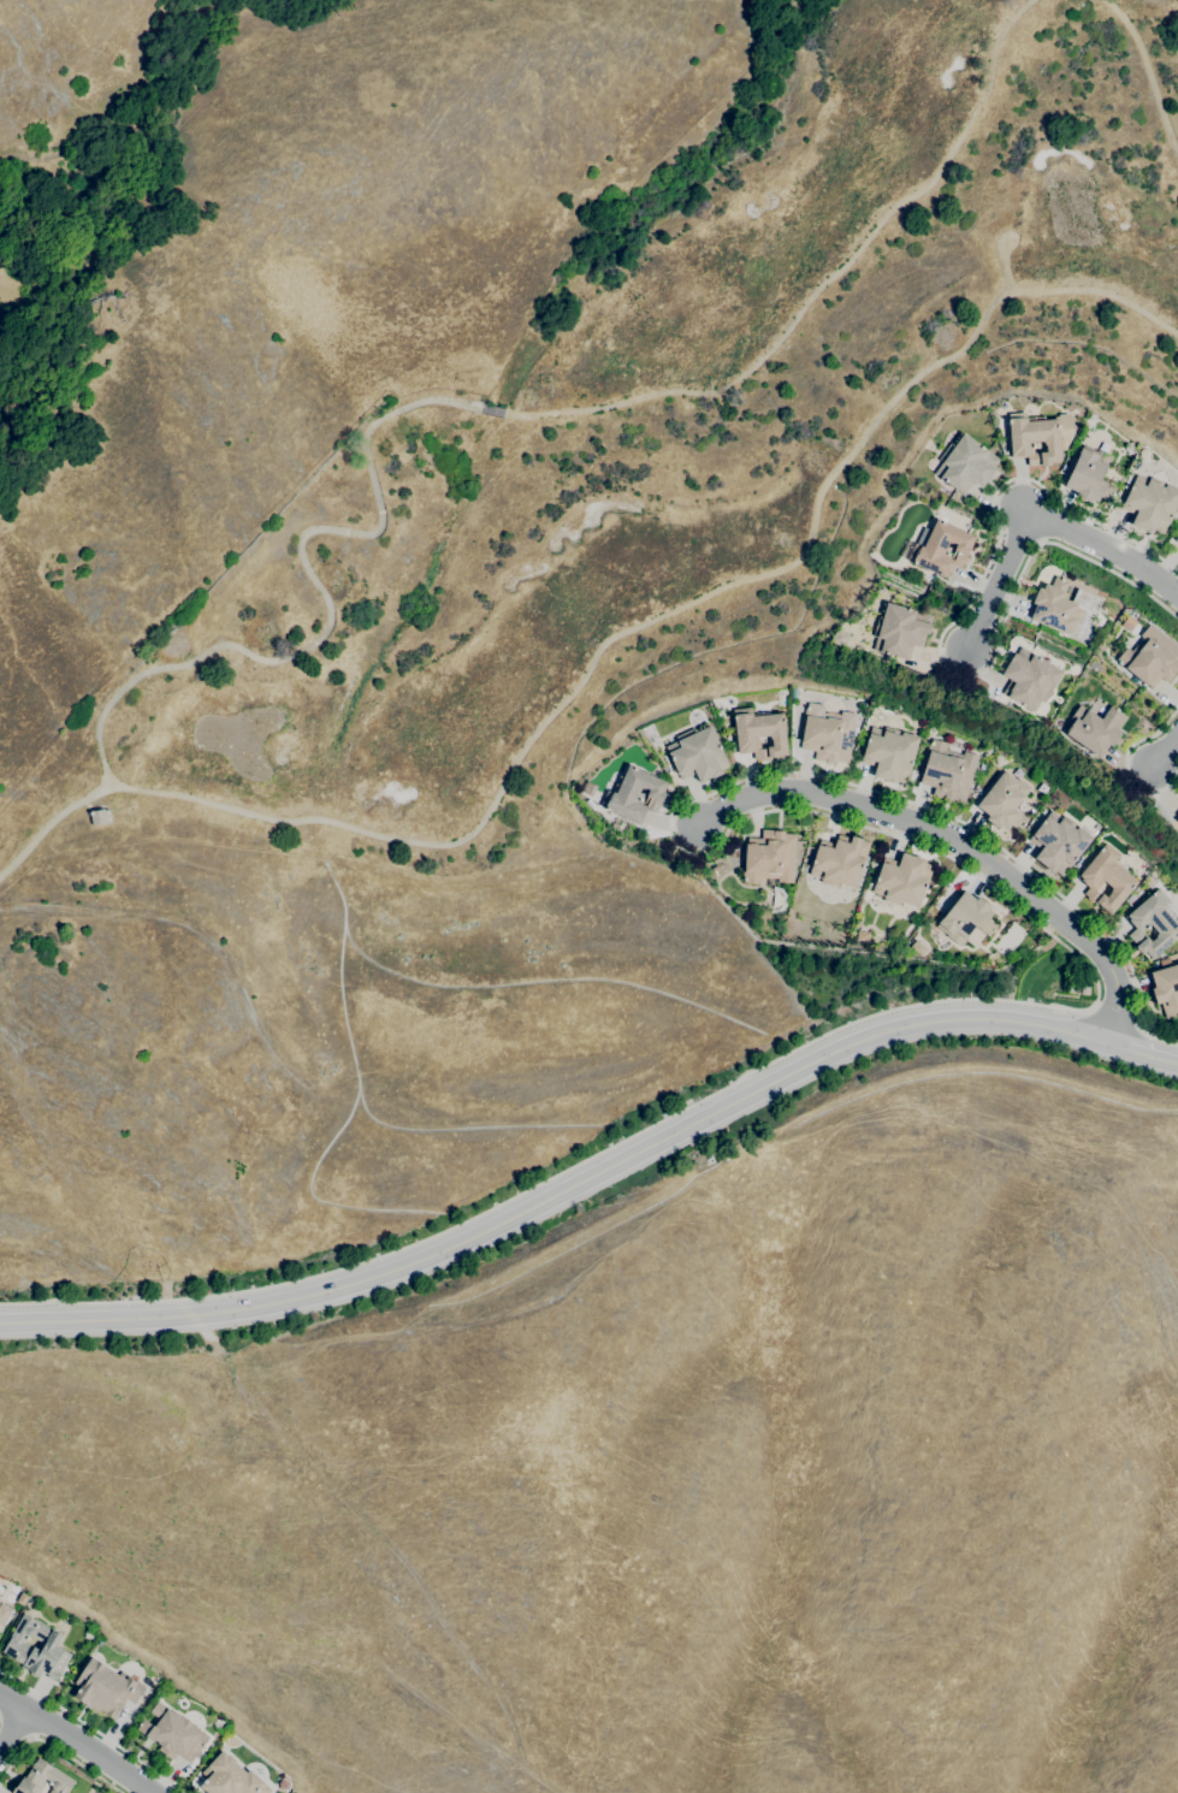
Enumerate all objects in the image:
road: (1149, 72)
road: (819, 284)
park: (645, 396)
road: (492, 410)
building: (1032, 439)
building: (1129, 449)
building: (1143, 454)
building: (965, 463)
building: (1089, 475)
building: (1149, 504)
building: (1176, 539)
building: (937, 549)
road: (1107, 549)
road: (996, 582)
road: (324, 597)
building: (1060, 606)
building: (899, 629)
road: (940, 635)
building: (839, 638)
road: (603, 643)
building: (1150, 658)
building: (1029, 679)
building: (720, 716)
building: (1094, 729)
building: (759, 733)
building: (827, 734)
road: (1164, 750)
building: (889, 753)
building: (697, 755)
road: (1125, 762)
building: (947, 771)
building: (634, 795)
building: (1177, 799)
building: (1004, 801)
building: (99, 816)
building: (1177, 817)
building: (1058, 842)
road: (958, 844)
building: (769, 857)
building: (840, 860)
building: (1106, 878)
building: (902, 880)
building: (1131, 898)
building: (966, 918)
building: (1153, 924)
building: (1070, 989)
building: (1166, 989)
building: (1084, 990)
road: (1096, 992)
road: (1143, 1053)
road: (562, 1190)
building: (0, 1588)
building: (22, 1599)
building: (4, 1614)
building: (36, 1647)
building: (105, 1688)
road: (90, 1729)
road: (13, 1730)
building: (173, 1734)
road: (77, 1740)
road: (52, 1748)
building: (230, 1777)
building: (43, 1779)

